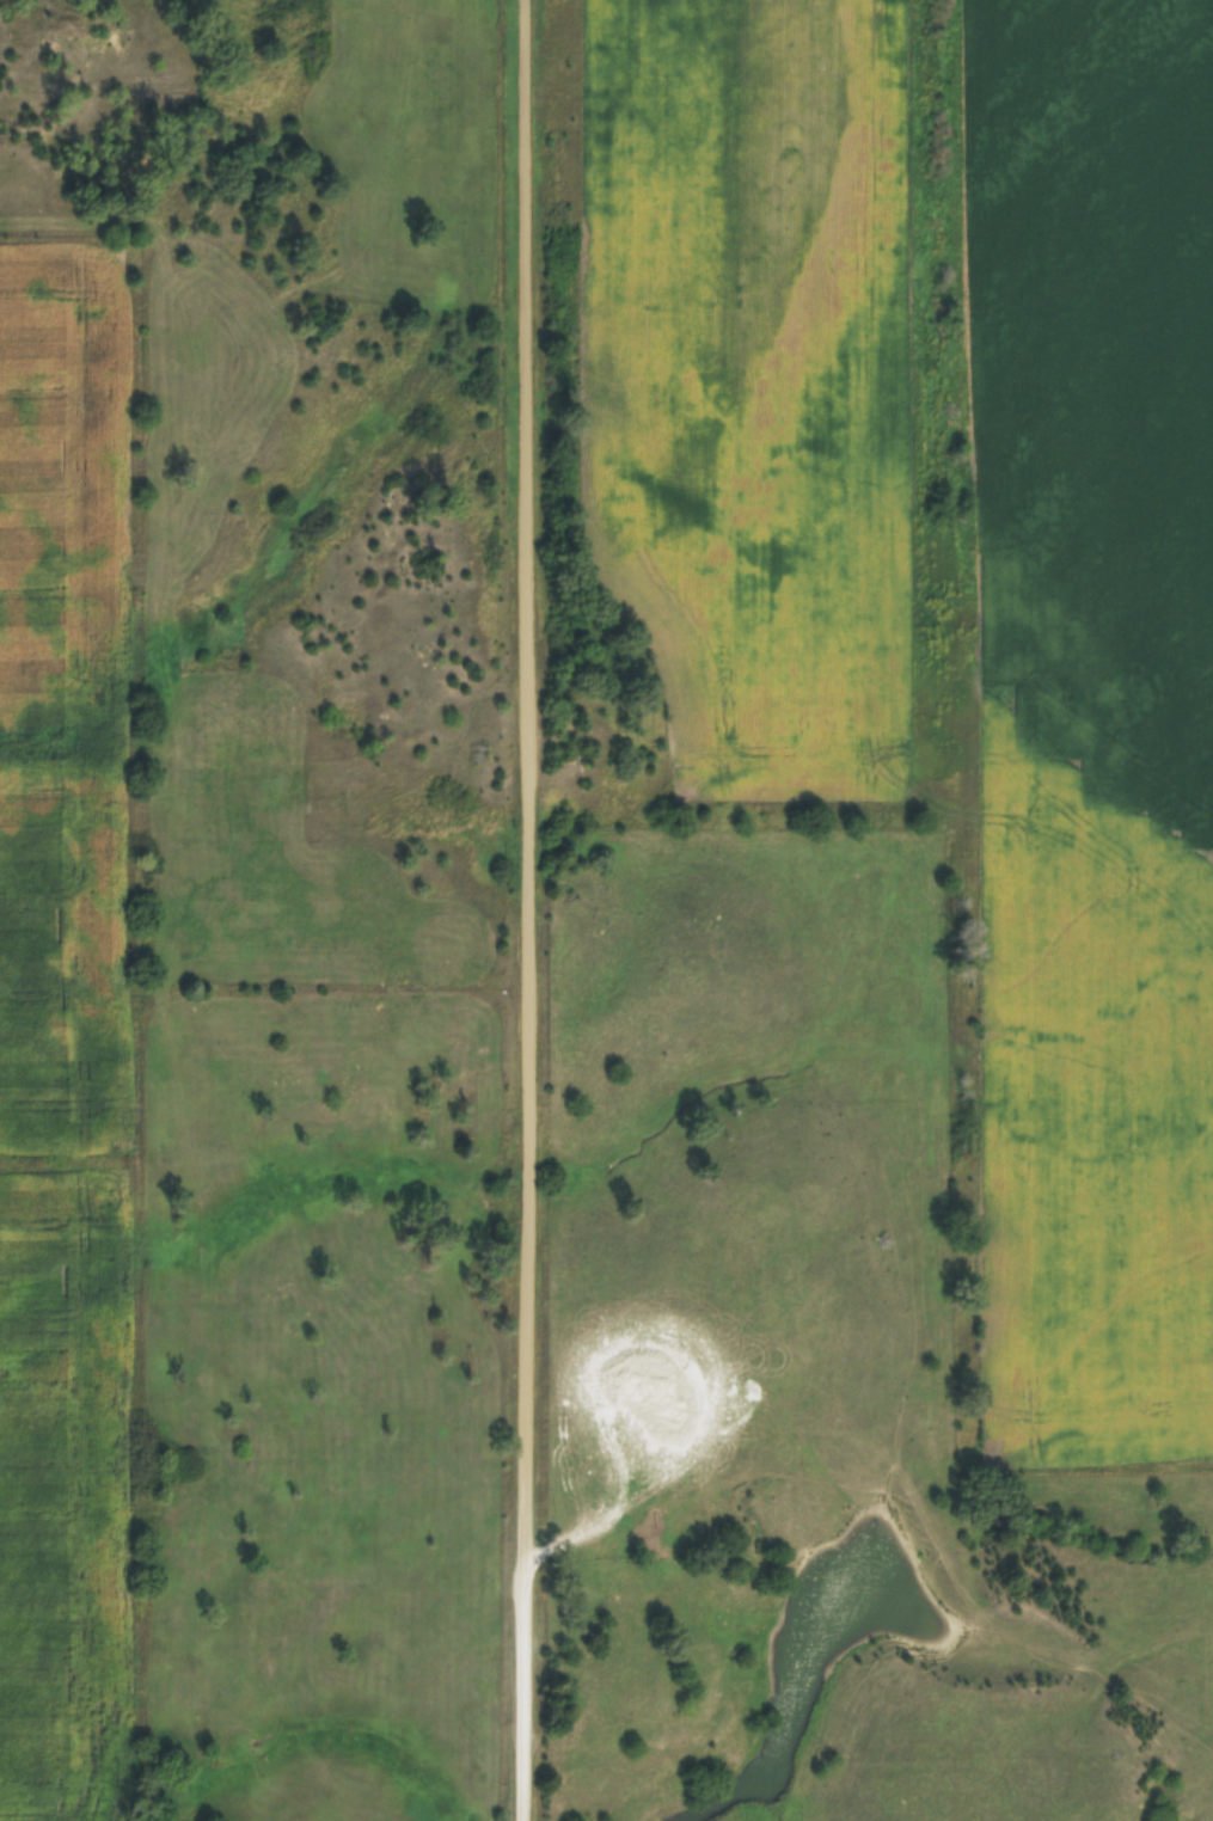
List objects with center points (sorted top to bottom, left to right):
road: (528, 909)

